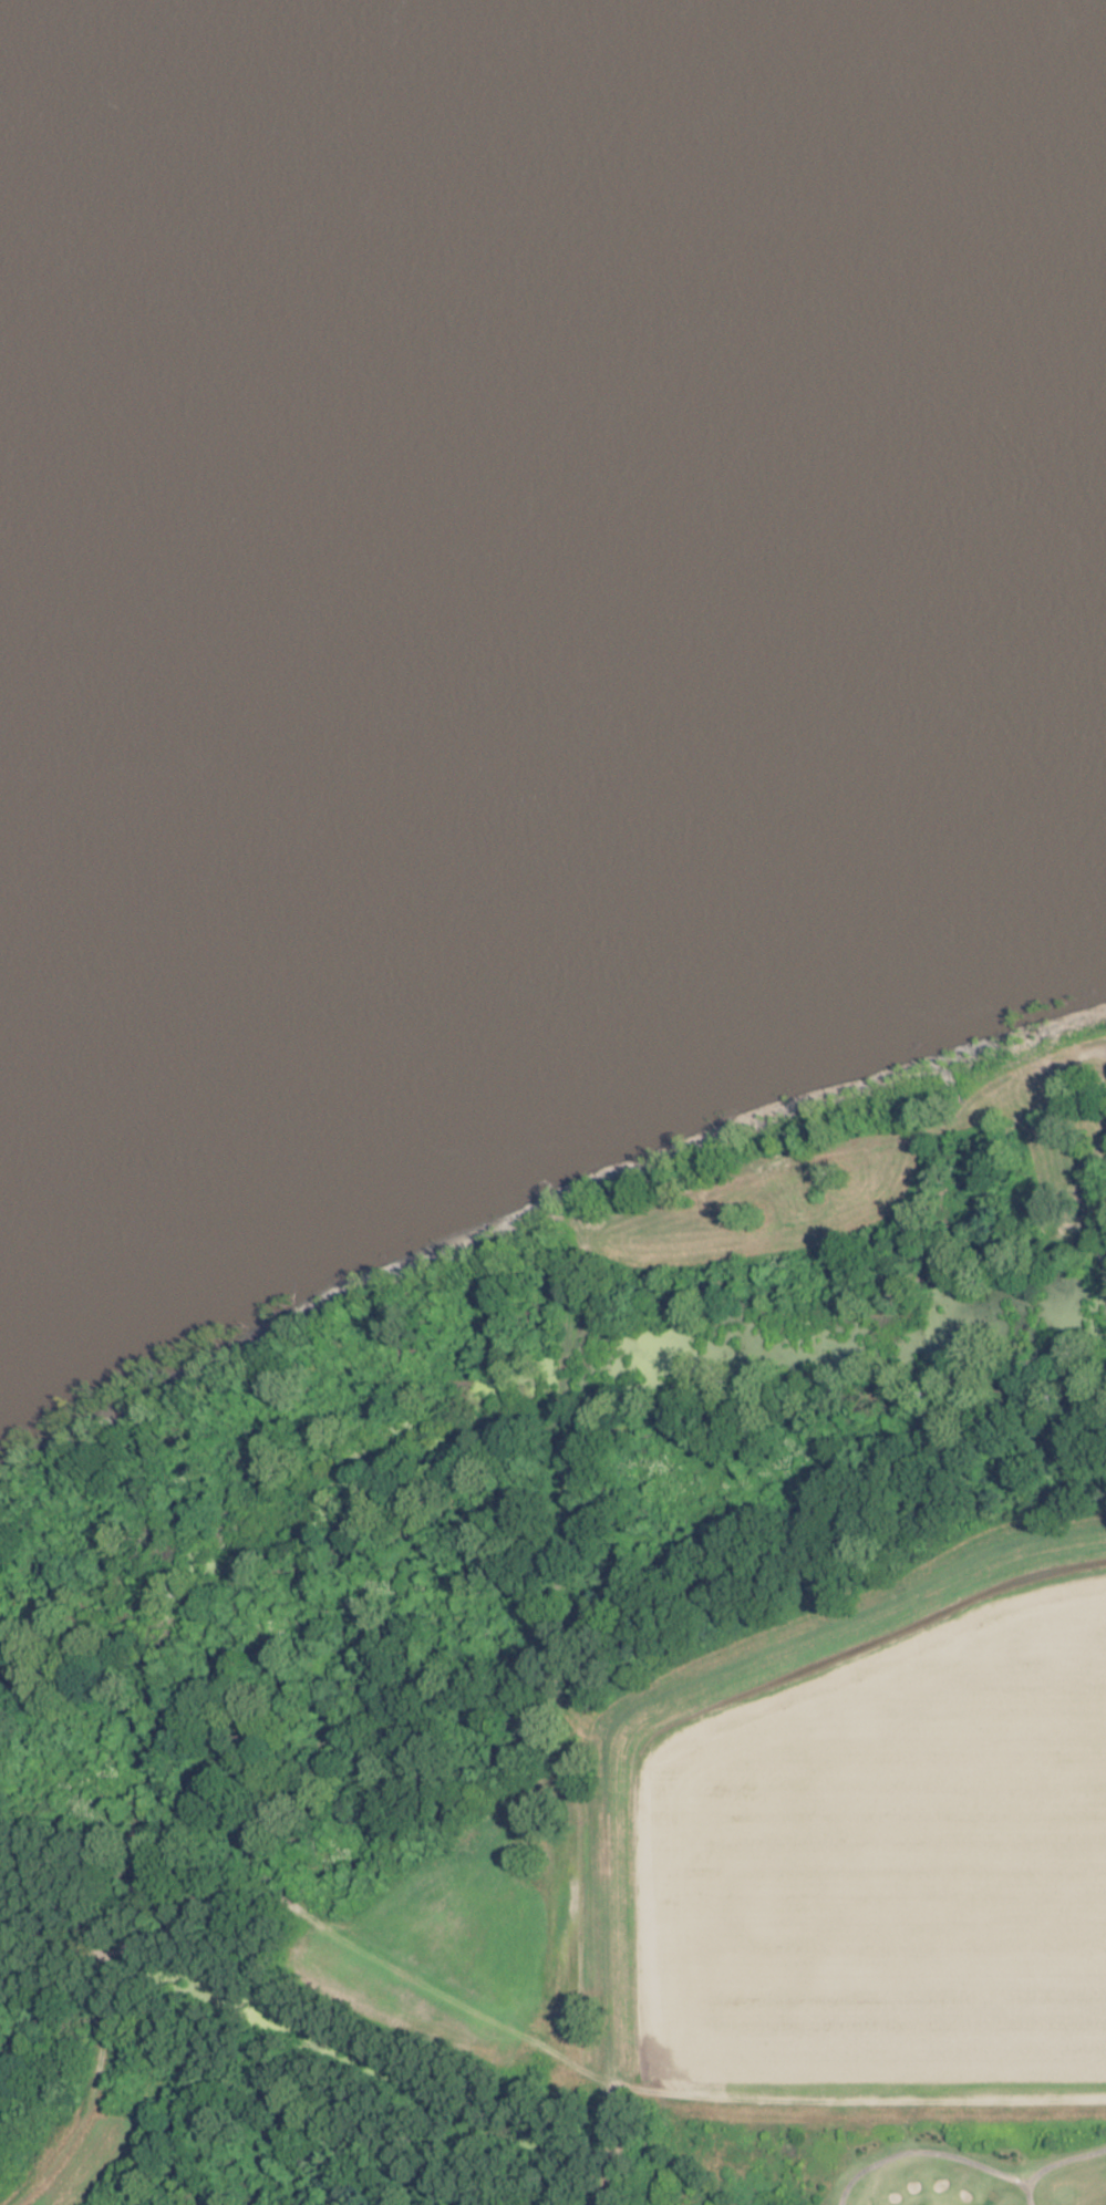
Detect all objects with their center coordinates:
river: (552, 112)
road: (401, 1925)
road: (879, 2095)

